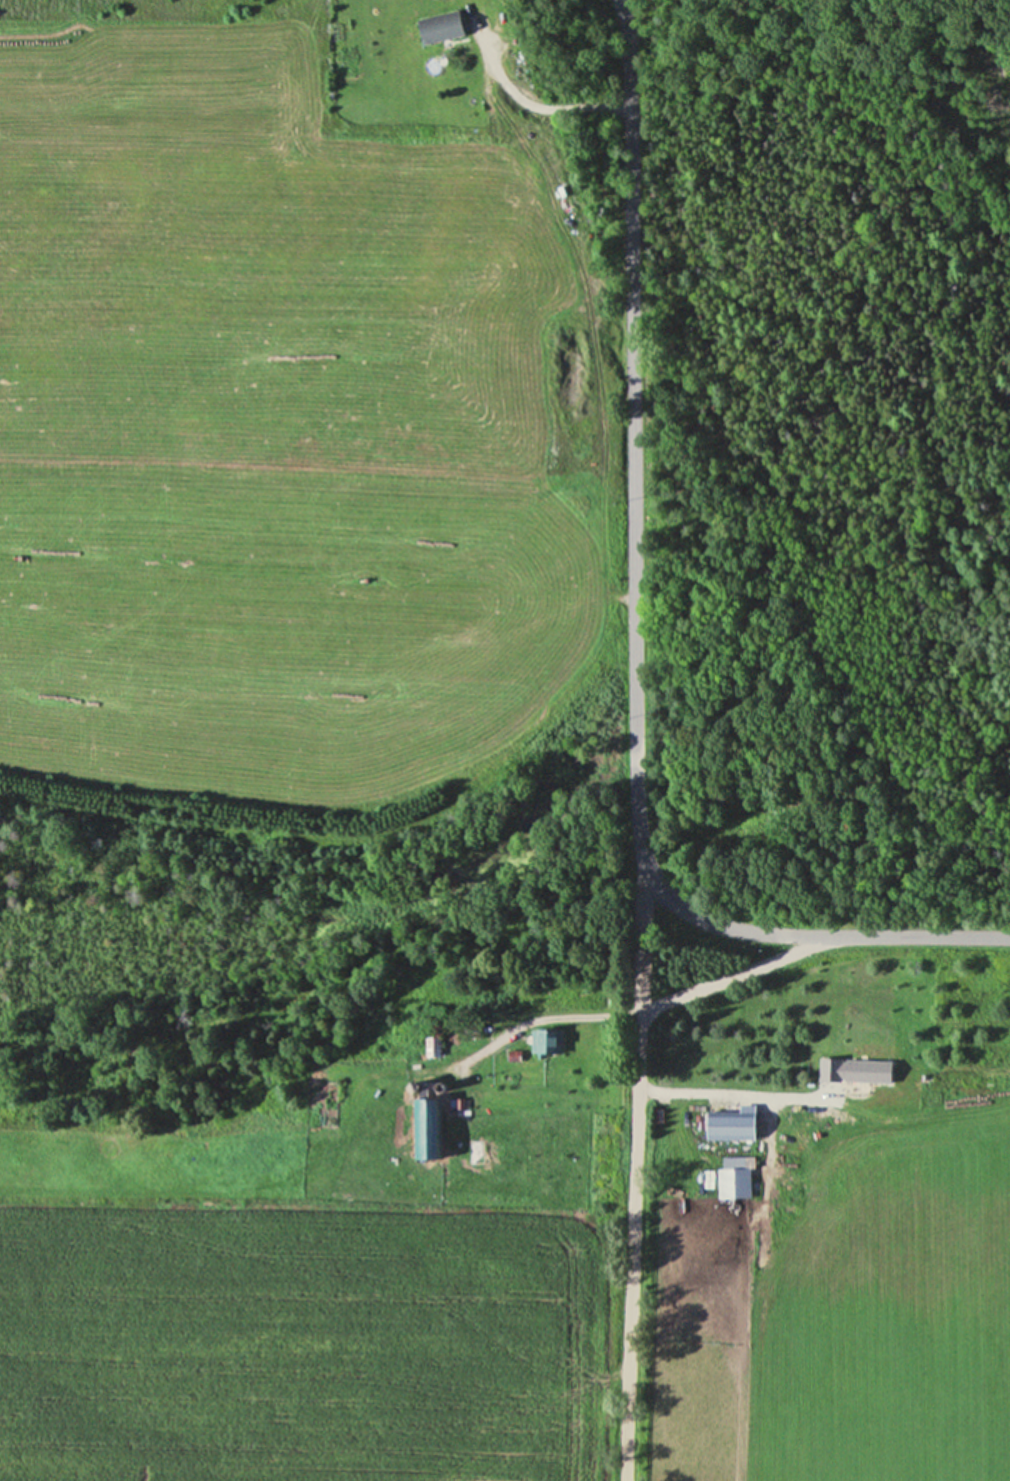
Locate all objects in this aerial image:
building: (435, 28)
road: (545, 109)
road: (632, 629)
road: (733, 977)
road: (541, 1019)
building: (532, 1042)
building: (829, 1071)
building: (317, 1105)
road: (632, 1170)

